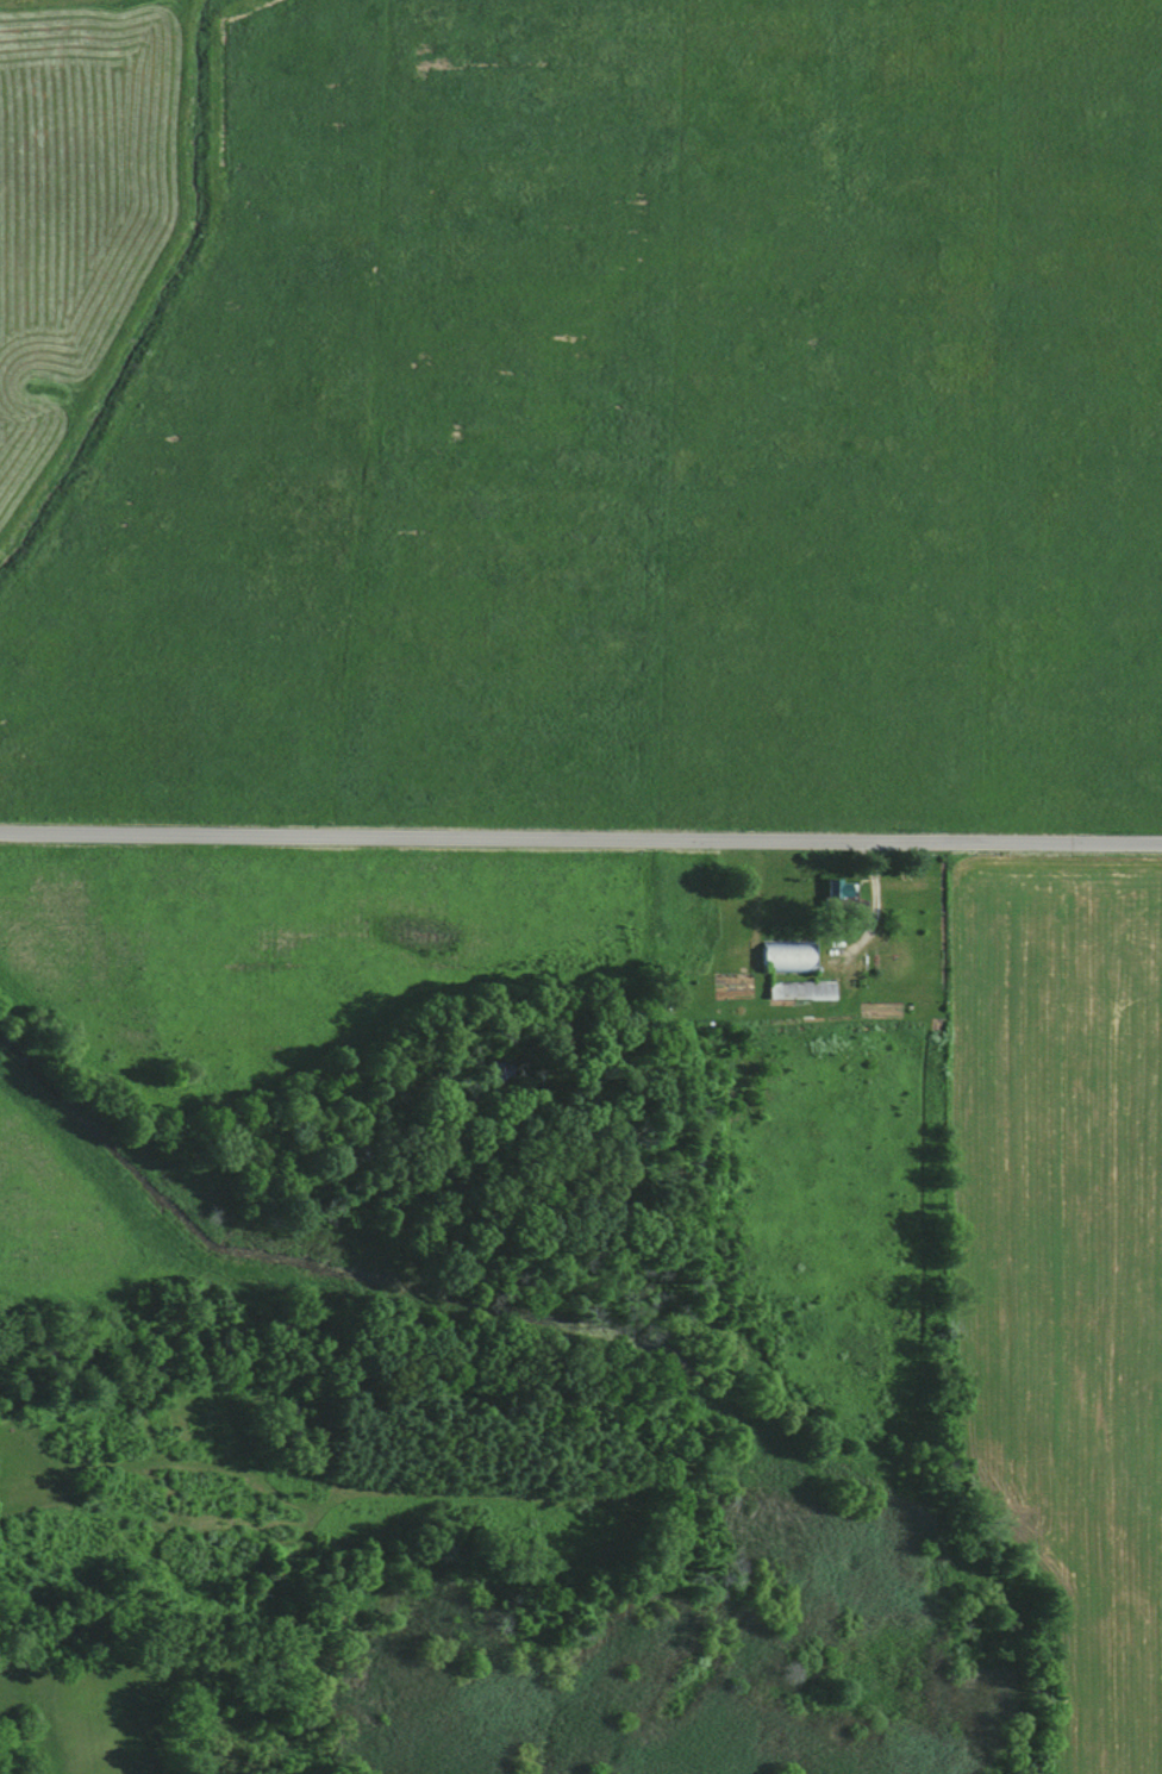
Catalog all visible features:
road: (581, 842)
building: (845, 888)

